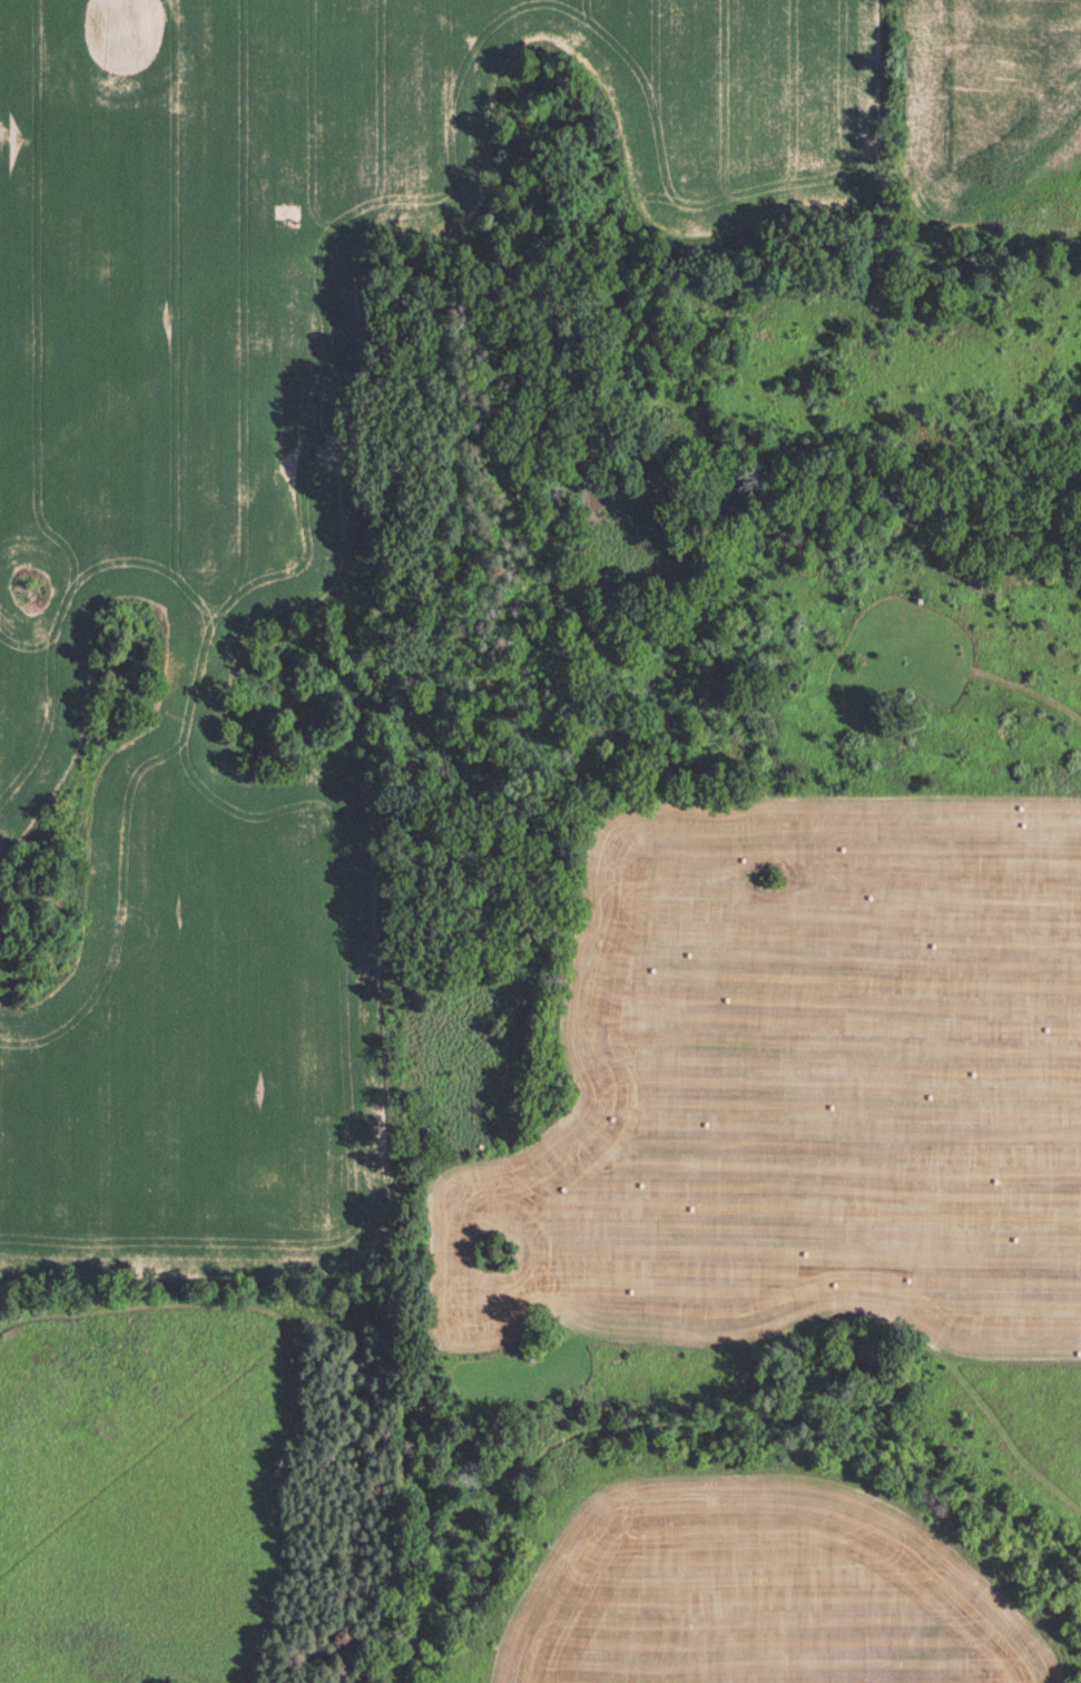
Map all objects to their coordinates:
crop: (1006, 104)
crop: (299, 272)
crop: (199, 1030)
crop: (796, 1084)
crop: (779, 1595)

